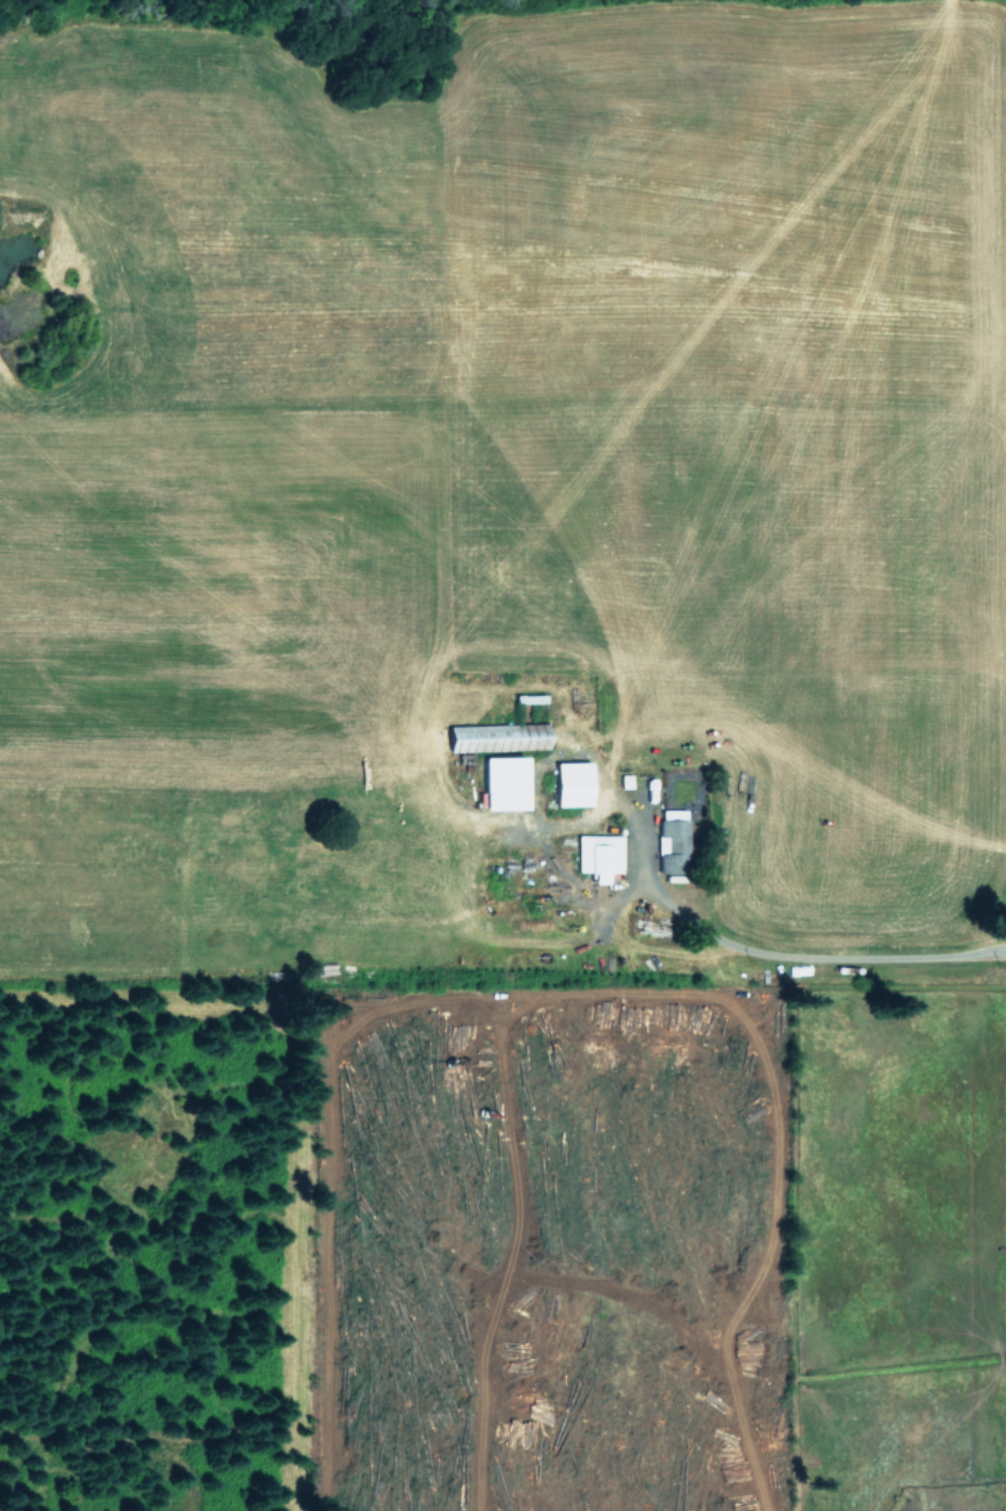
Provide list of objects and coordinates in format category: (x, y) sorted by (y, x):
crop: (546, 571)
building: (495, 736)
building: (500, 781)
building: (570, 783)
building: (672, 840)
building: (598, 854)
road: (777, 955)

